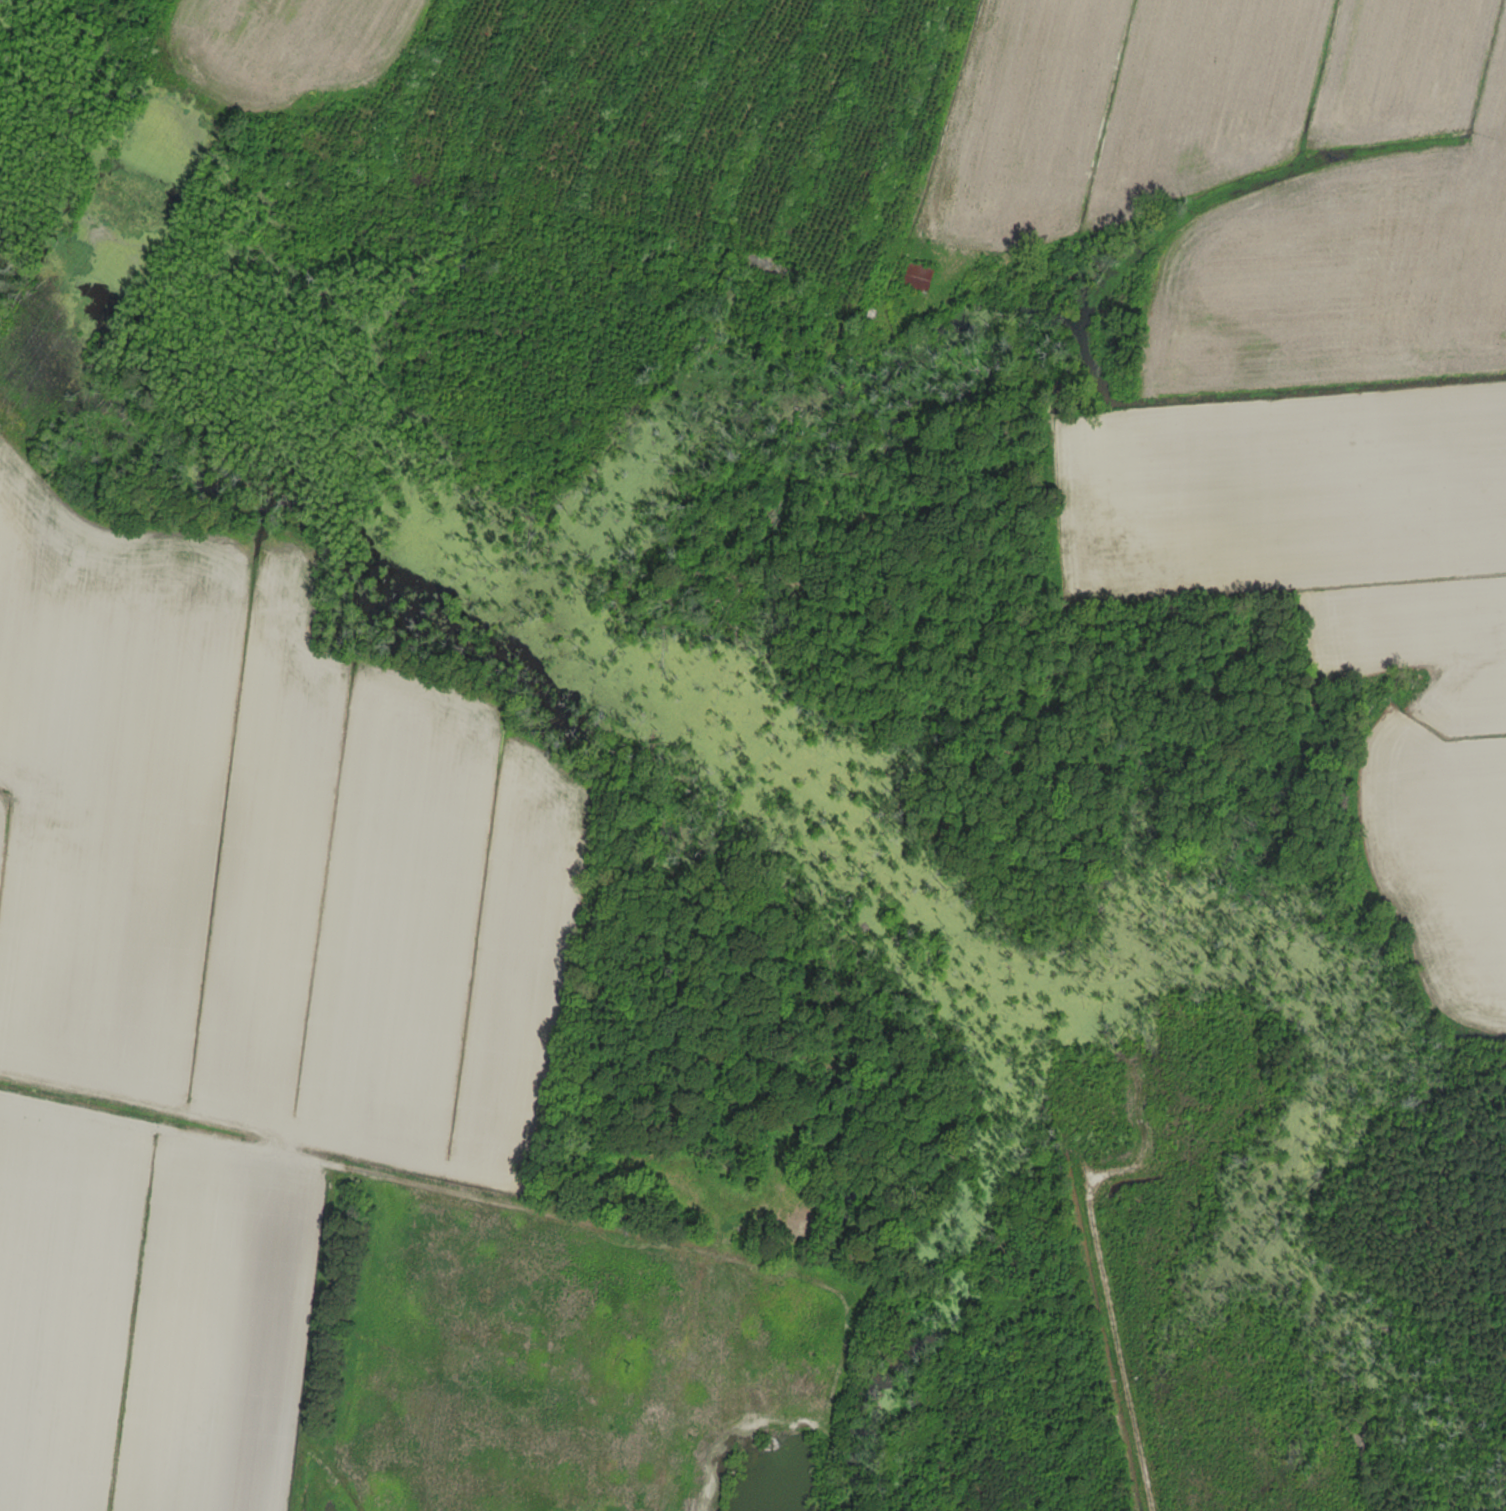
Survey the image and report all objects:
road: (345, 1178)

